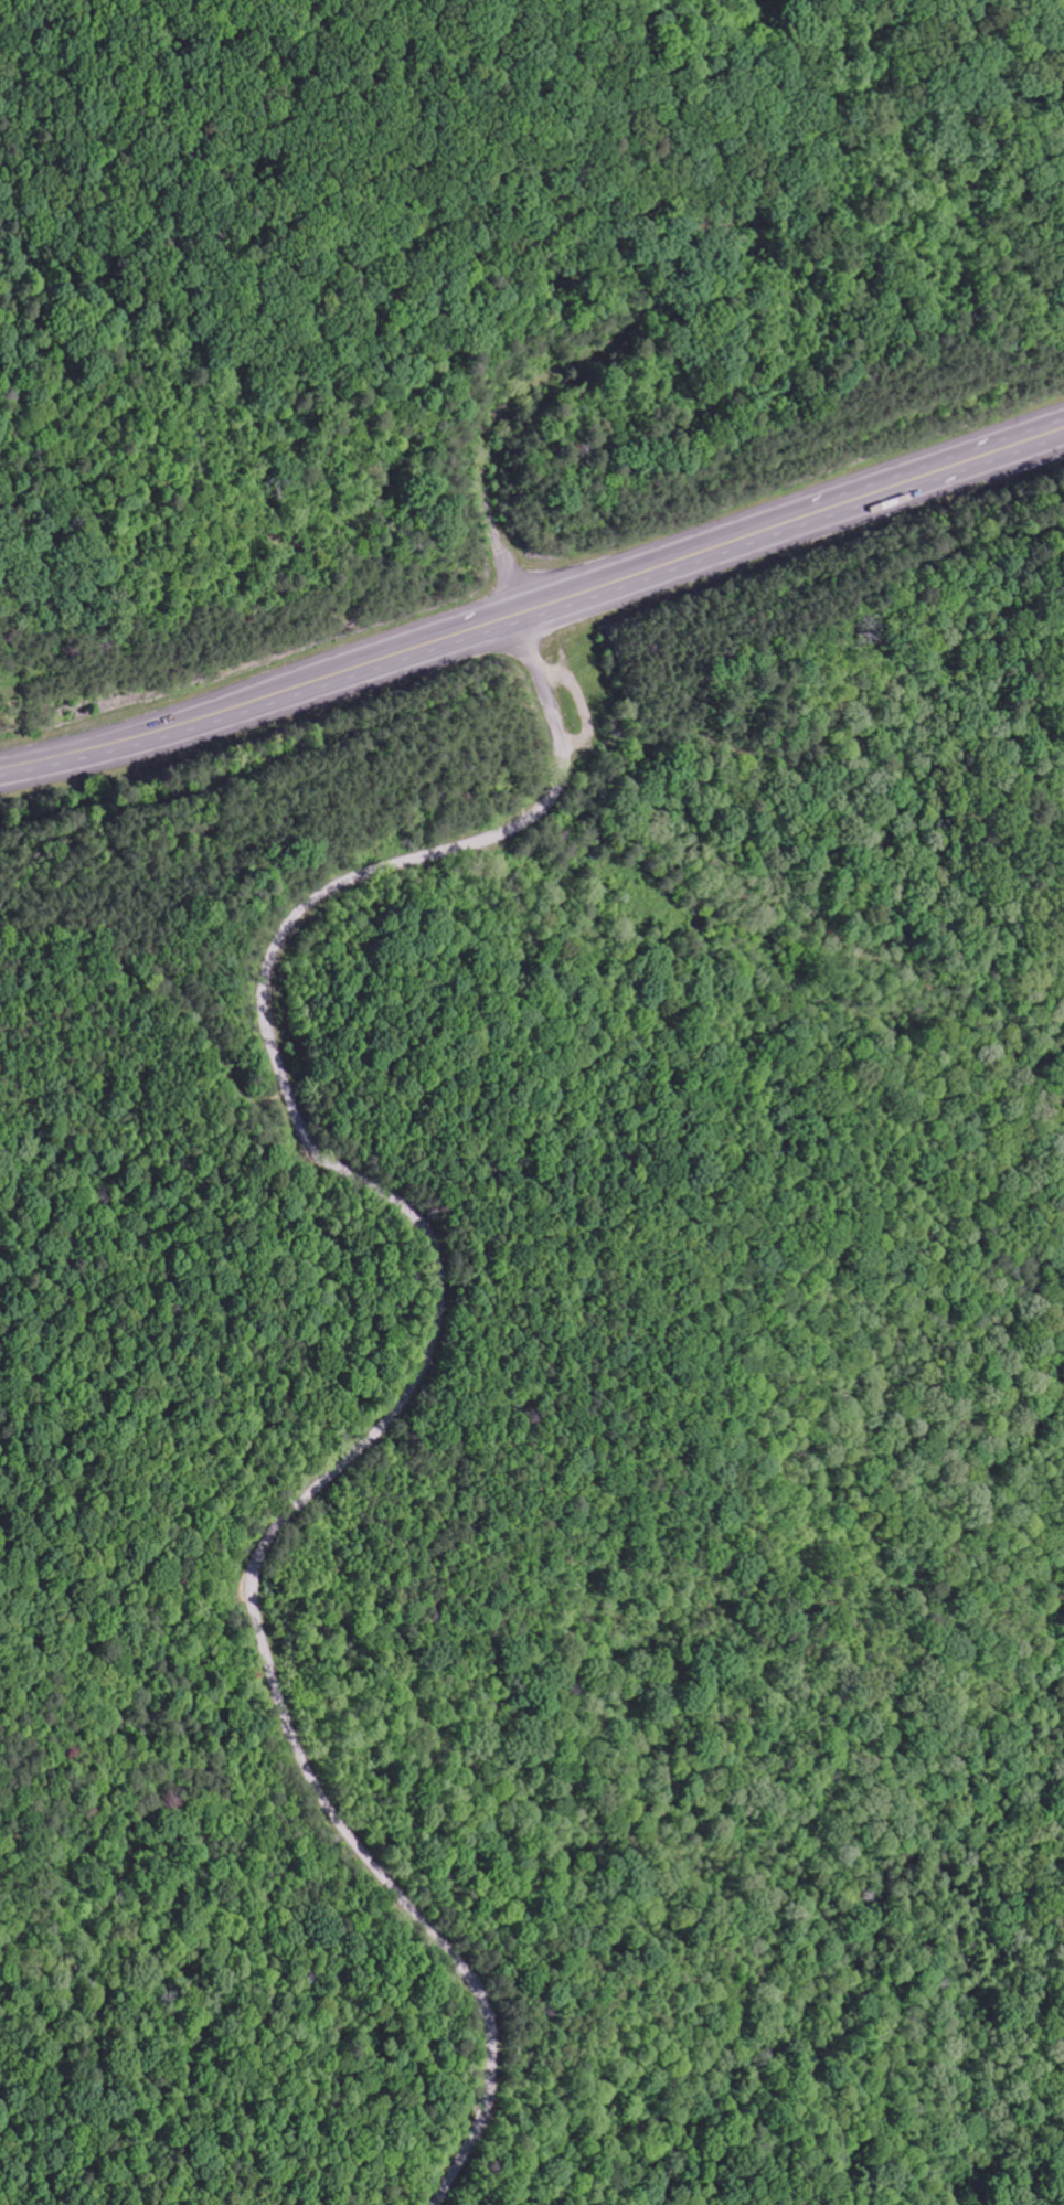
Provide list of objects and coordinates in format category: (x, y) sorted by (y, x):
road: (635, 330)
road: (534, 608)
road: (426, 1354)

